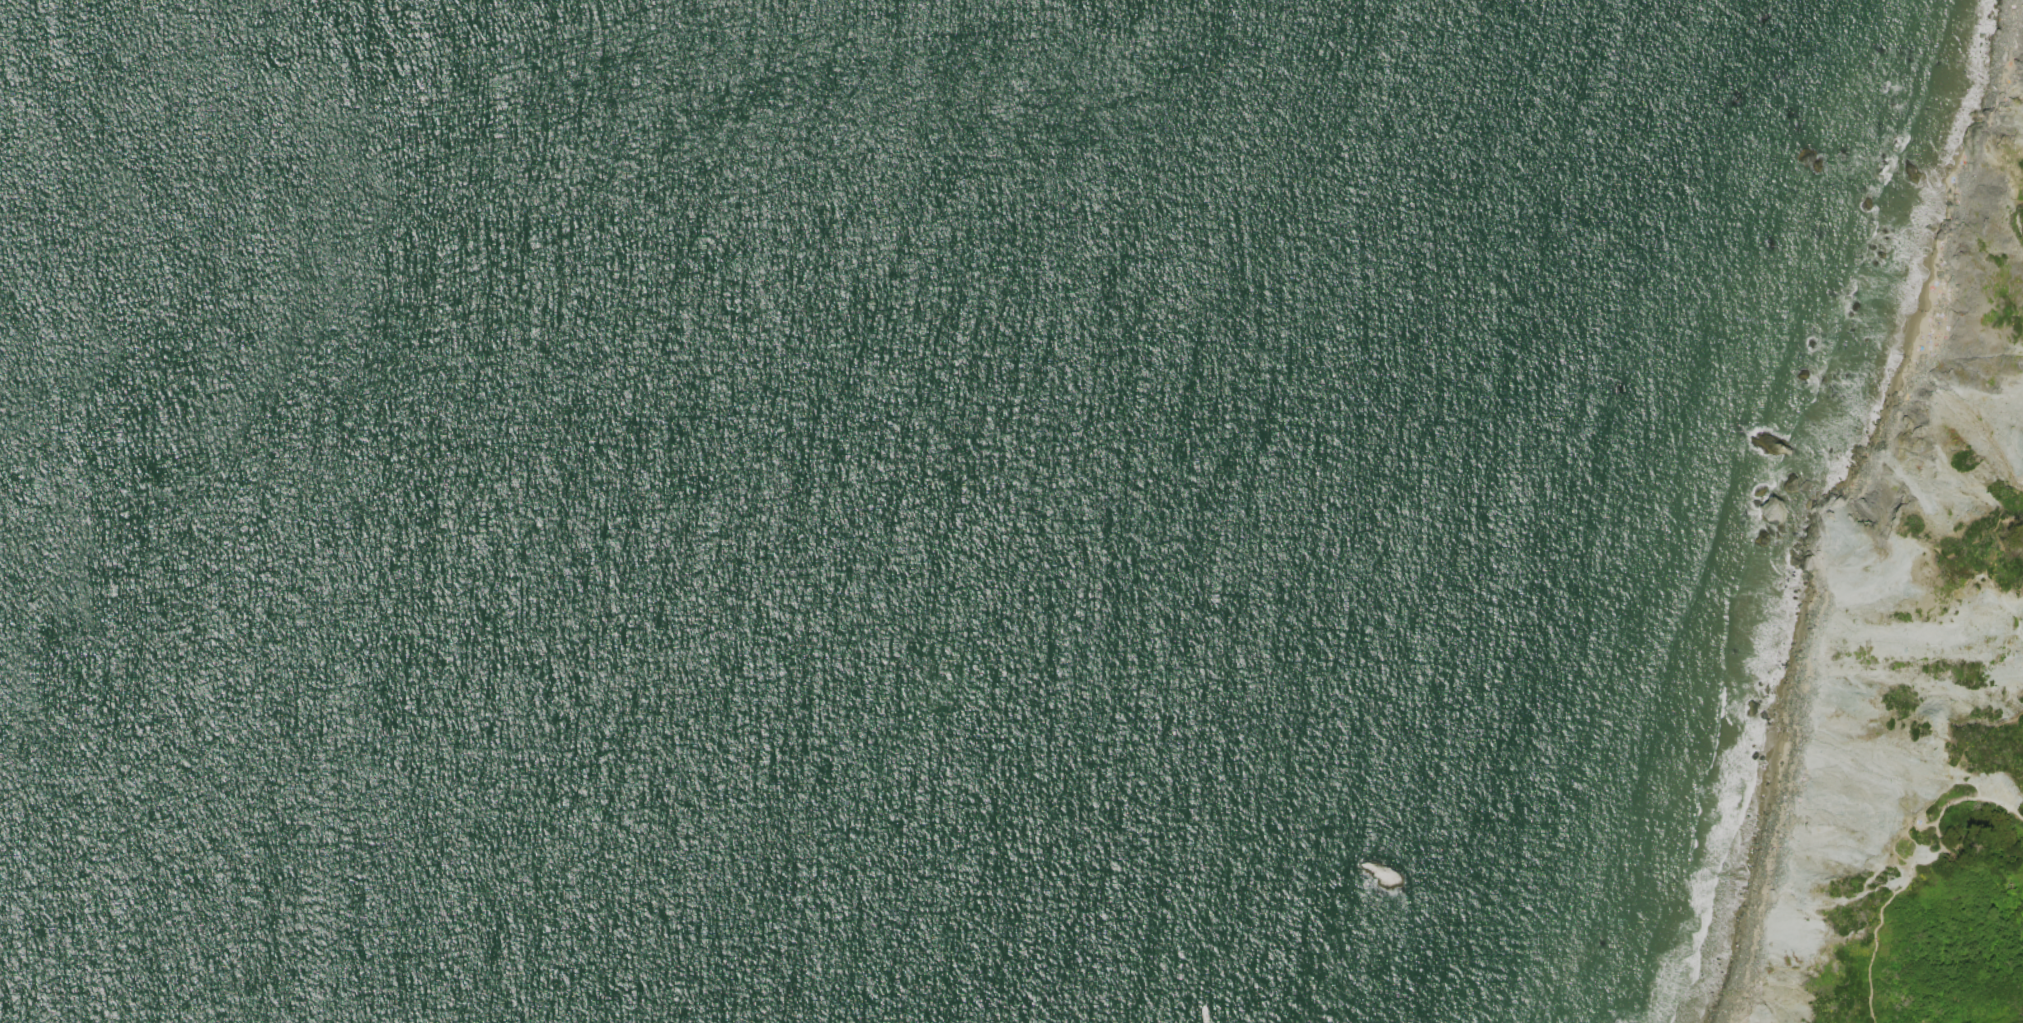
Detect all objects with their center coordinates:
park: (1902, 651)
road: (1921, 824)
road: (1938, 833)
road: (1872, 994)

